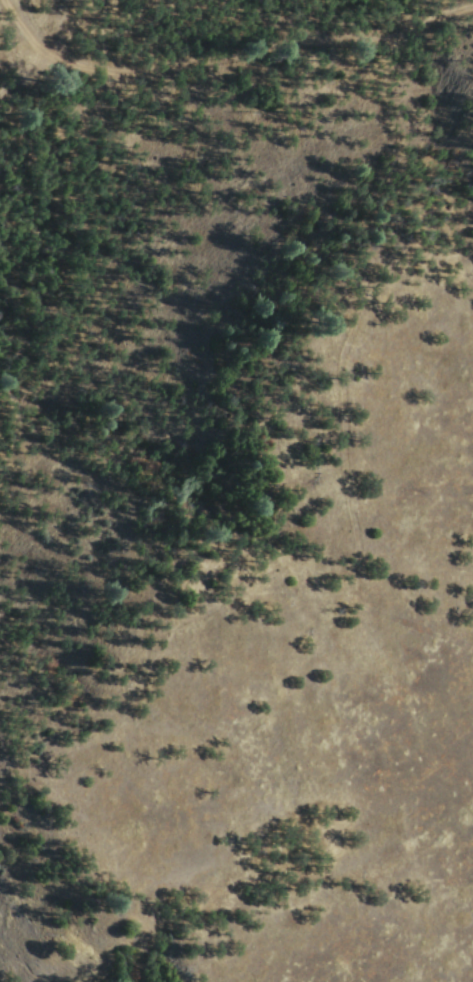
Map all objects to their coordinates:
road: (219, 65)

